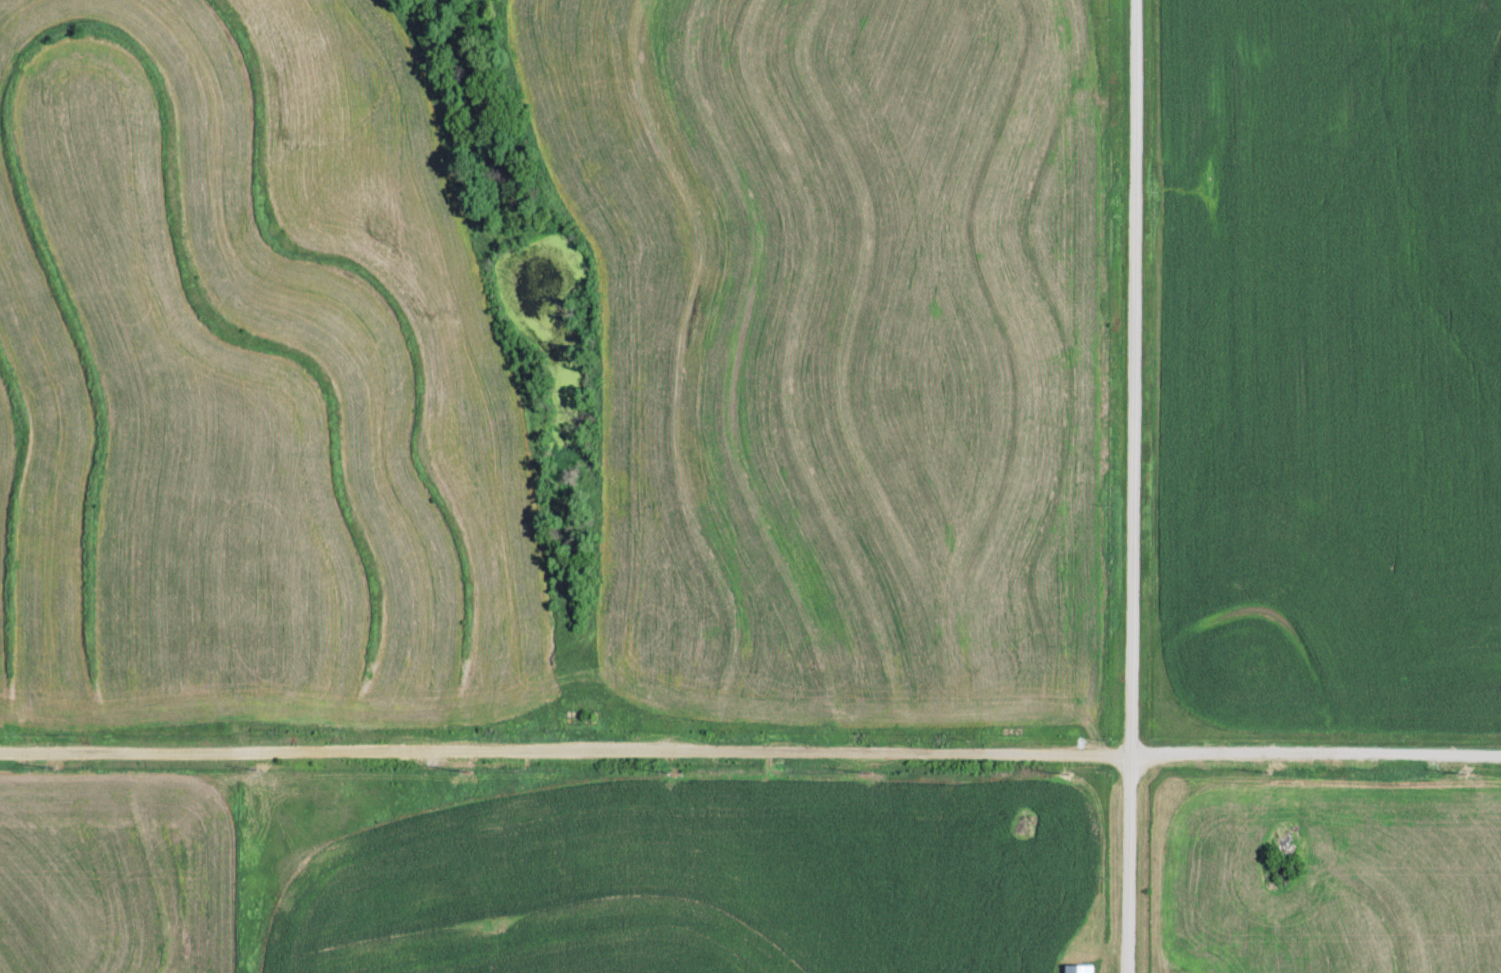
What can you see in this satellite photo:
road: (1130, 486)
road: (750, 746)
building: (1078, 967)

